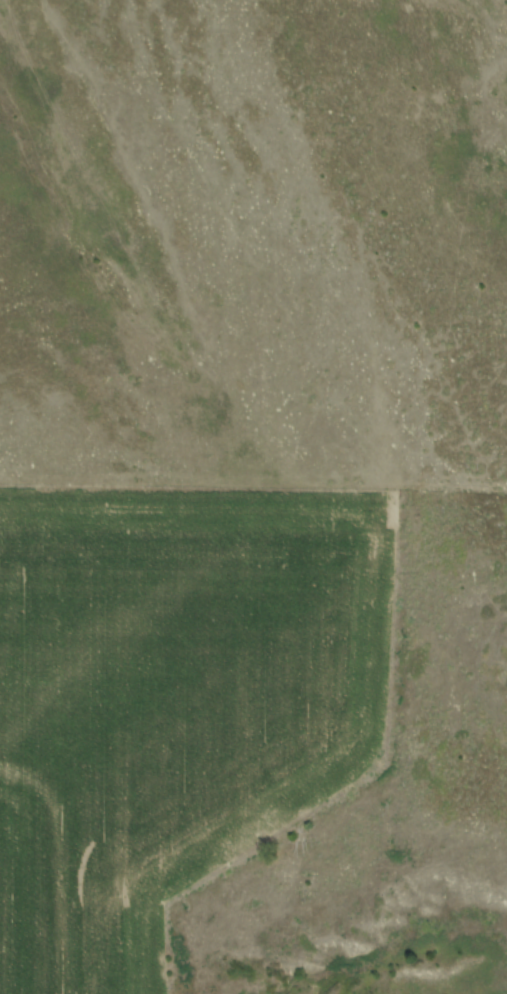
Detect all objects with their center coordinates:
crop: (173, 698)

